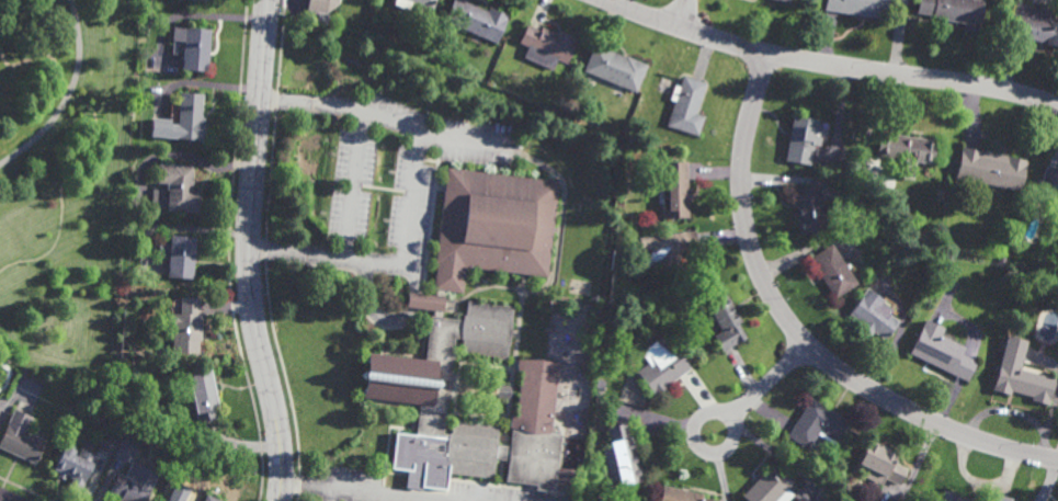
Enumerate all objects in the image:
building: (202, 0)
building: (785, 1)
building: (319, 4)
building: (406, 7)
building: (860, 7)
building: (954, 11)
road: (684, 13)
building: (478, 20)
building: (1034, 23)
building: (547, 46)
building: (196, 49)
road: (829, 65)
building: (615, 68)
road: (68, 94)
building: (686, 105)
building: (190, 117)
road: (462, 139)
building: (805, 139)
building: (903, 152)
building: (990, 169)
parking lot: (402, 172)
park: (58, 181)
building: (1049, 181)
road: (353, 184)
road: (56, 190)
building: (175, 190)
building: (673, 190)
road: (411, 192)
building: (809, 210)
building: (1056, 210)
building: (668, 248)
road: (558, 249)
road: (248, 251)
building: (179, 255)
building: (868, 261)
building: (833, 271)
building: (875, 316)
road: (394, 320)
building: (726, 323)
building: (190, 329)
building: (480, 332)
road: (795, 333)
building: (940, 353)
road: (514, 363)
building: (661, 366)
building: (126, 372)
building: (1020, 376)
road: (769, 382)
road: (456, 386)
building: (600, 386)
building: (126, 396)
building: (203, 397)
building: (818, 425)
building: (21, 439)
building: (110, 444)
road: (728, 445)
building: (624, 456)
building: (881, 465)
building: (75, 467)
building: (566, 479)
parking lot: (353, 483)
building: (135, 485)
building: (771, 488)
road: (356, 491)
parking lot: (497, 493)
road: (330, 494)
building: (679, 496)
road: (4, 498)
building: (952, 498)
building: (997, 499)
building: (171, 500)
building: (211, 500)

